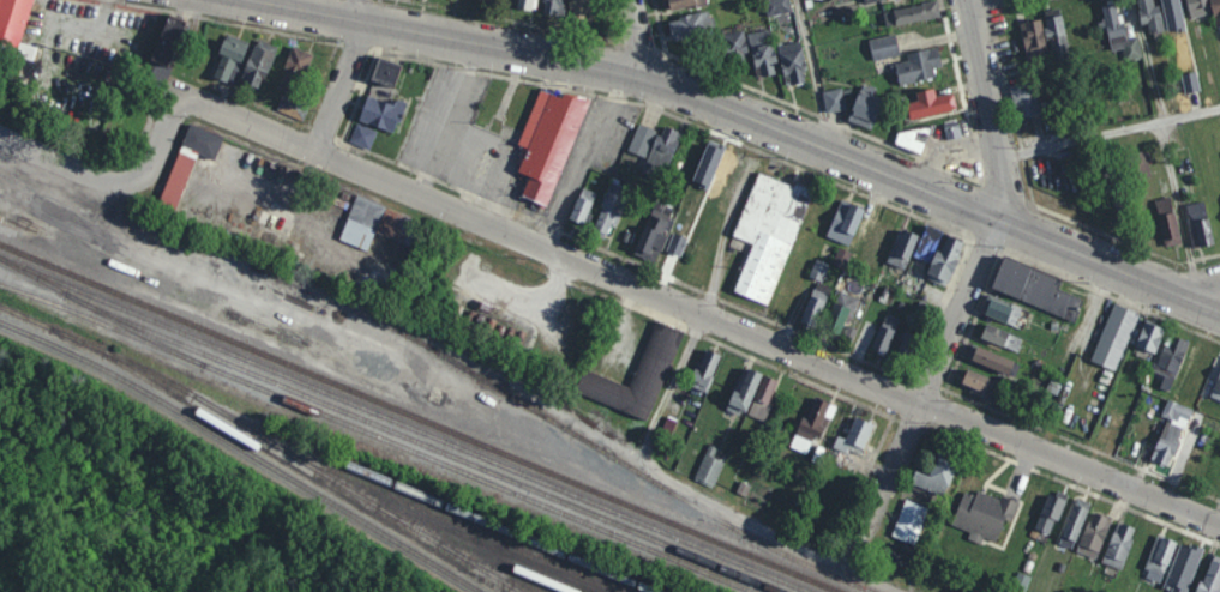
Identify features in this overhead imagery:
building: (445, 1)
building: (871, 1)
building: (907, 1)
building: (498, 2)
building: (534, 6)
building: (779, 6)
building: (692, 7)
building: (1198, 7)
building: (566, 8)
building: (582, 10)
building: (1216, 11)
building: (599, 12)
building: (912, 13)
building: (1150, 16)
building: (930, 17)
building: (22, 24)
building: (179, 34)
building: (695, 34)
building: (1119, 35)
building: (1058, 36)
building: (1034, 38)
building: (738, 43)
road: (651, 46)
building: (884, 47)
building: (762, 48)
road: (1148, 59)
building: (253, 62)
building: (793, 64)
building: (932, 66)
building: (304, 71)
building: (399, 73)
road: (812, 74)
road: (343, 83)
building: (840, 98)
building: (1026, 98)
building: (932, 104)
building: (293, 108)
building: (950, 109)
building: (877, 110)
road: (720, 113)
building: (387, 117)
road: (172, 126)
building: (952, 129)
road: (1106, 132)
building: (363, 135)
building: (553, 143)
building: (922, 143)
building: (657, 144)
road: (583, 168)
building: (1149, 168)
building: (196, 176)
road: (82, 207)
building: (590, 207)
road: (1179, 209)
building: (617, 212)
building: (857, 221)
building: (1168, 221)
building: (391, 228)
building: (1208, 229)
building: (661, 236)
building: (769, 240)
road: (723, 241)
building: (919, 246)
building: (956, 262)
building: (818, 270)
building: (833, 272)
road: (963, 282)
building: (1051, 289)
road: (1206, 296)
building: (813, 308)
railway: (100, 310)
building: (841, 313)
building: (1014, 313)
building: (828, 314)
building: (854, 324)
road: (720, 328)
building: (885, 333)
building: (899, 336)
building: (1122, 337)
building: (1150, 337)
building: (1014, 338)
building: (1166, 342)
building: (907, 343)
building: (919, 348)
railway: (78, 351)
building: (1002, 358)
building: (1183, 361)
building: (1171, 362)
building: (705, 370)
building: (636, 371)
building: (1213, 371)
building: (716, 375)
building: (981, 385)
building: (1218, 389)
building: (745, 391)
building: (763, 395)
railway: (420, 417)
building: (827, 422)
railway: (407, 423)
building: (811, 425)
building: (1171, 431)
building: (855, 435)
railway: (378, 436)
railway: (583, 439)
building: (871, 439)
railway: (256, 441)
railway: (420, 443)
building: (1180, 446)
building: (720, 465)
building: (709, 467)
building: (946, 472)
road: (679, 487)
railway: (409, 489)
railway: (317, 493)
building: (992, 512)
building: (1050, 513)
building: (1059, 517)
railway: (432, 520)
building: (920, 521)
building: (1075, 522)
building: (1082, 527)
building: (1094, 534)
building: (1108, 538)
building: (1119, 545)
building: (1132, 546)
building: (1159, 558)
building: (1170, 562)
railway: (475, 563)
road: (869, 576)
building: (1216, 584)

